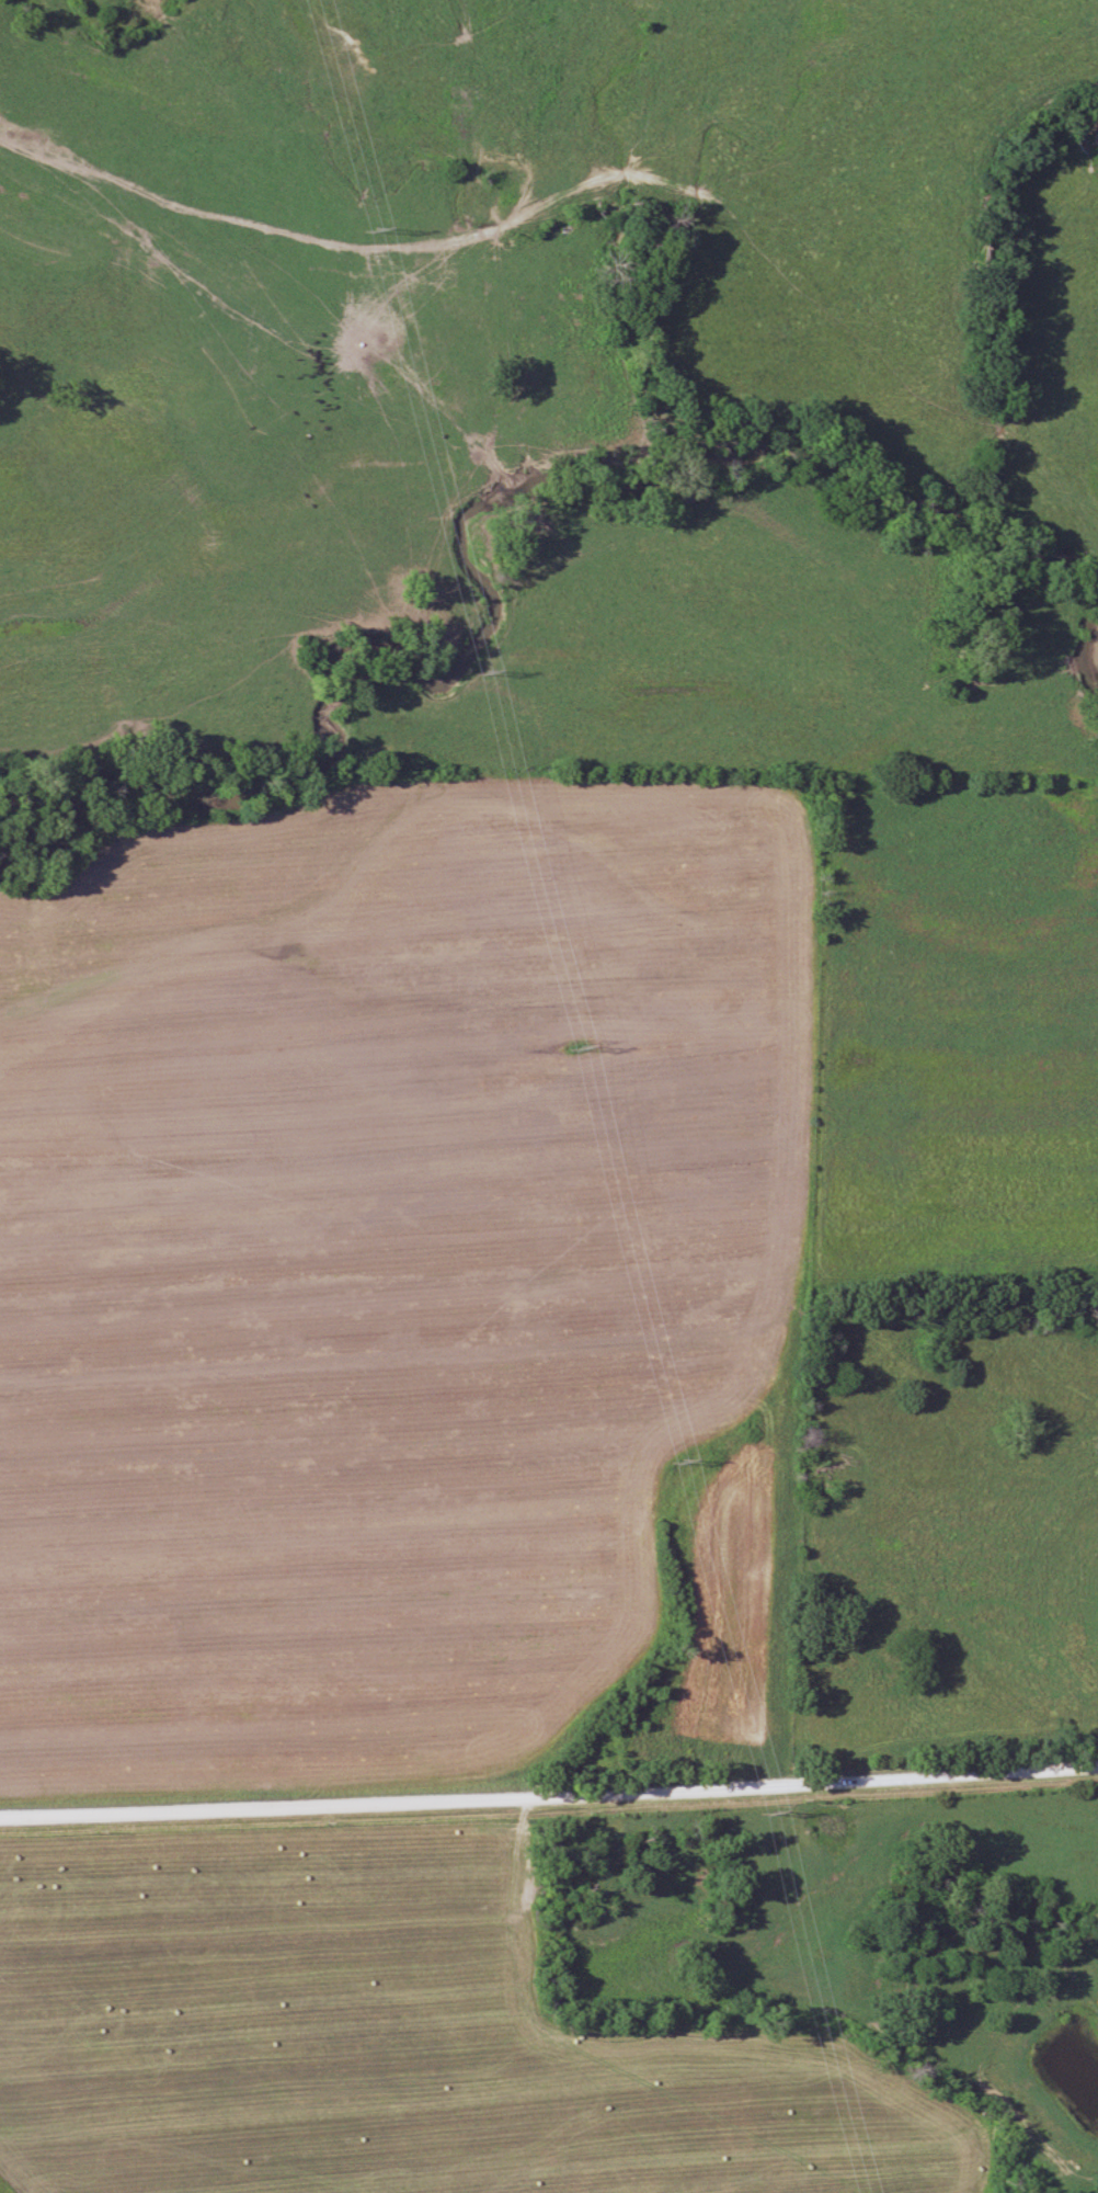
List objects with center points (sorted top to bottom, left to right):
power tower: (380, 229)
power tower: (494, 666)
power tower: (587, 1046)
power tower: (688, 1458)
road: (549, 1788)
power tower: (779, 1810)

